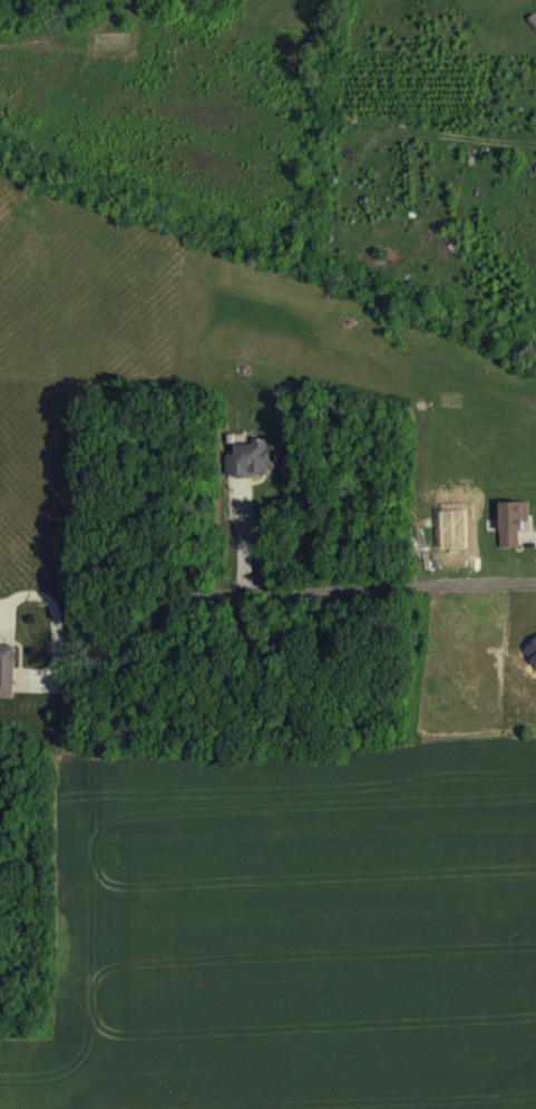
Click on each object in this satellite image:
building: (535, 7)
building: (254, 471)
building: (513, 535)
road: (267, 590)
building: (7, 683)

